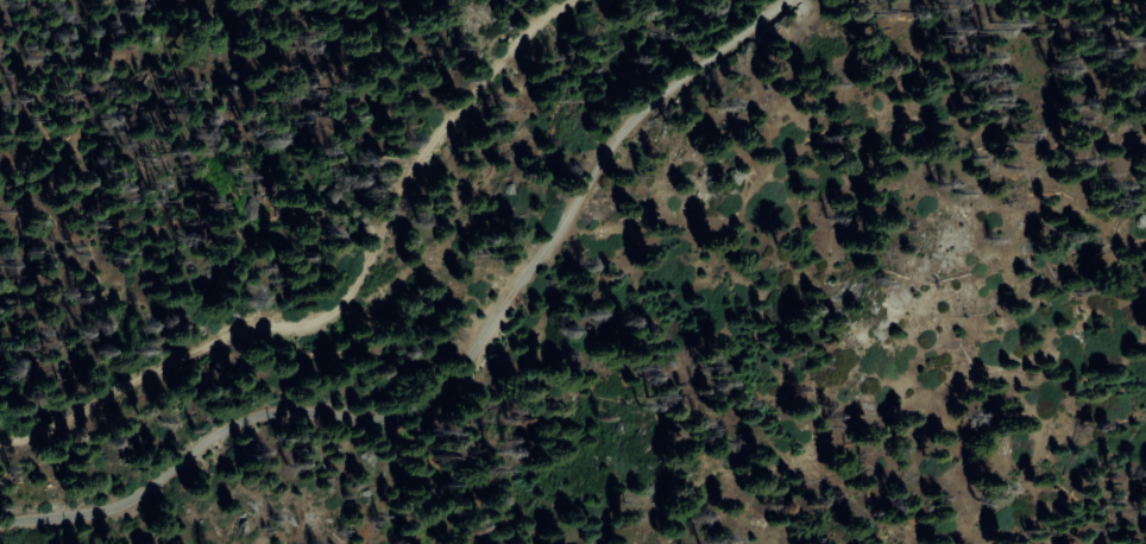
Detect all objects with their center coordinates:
road: (341, 295)
road: (456, 373)

